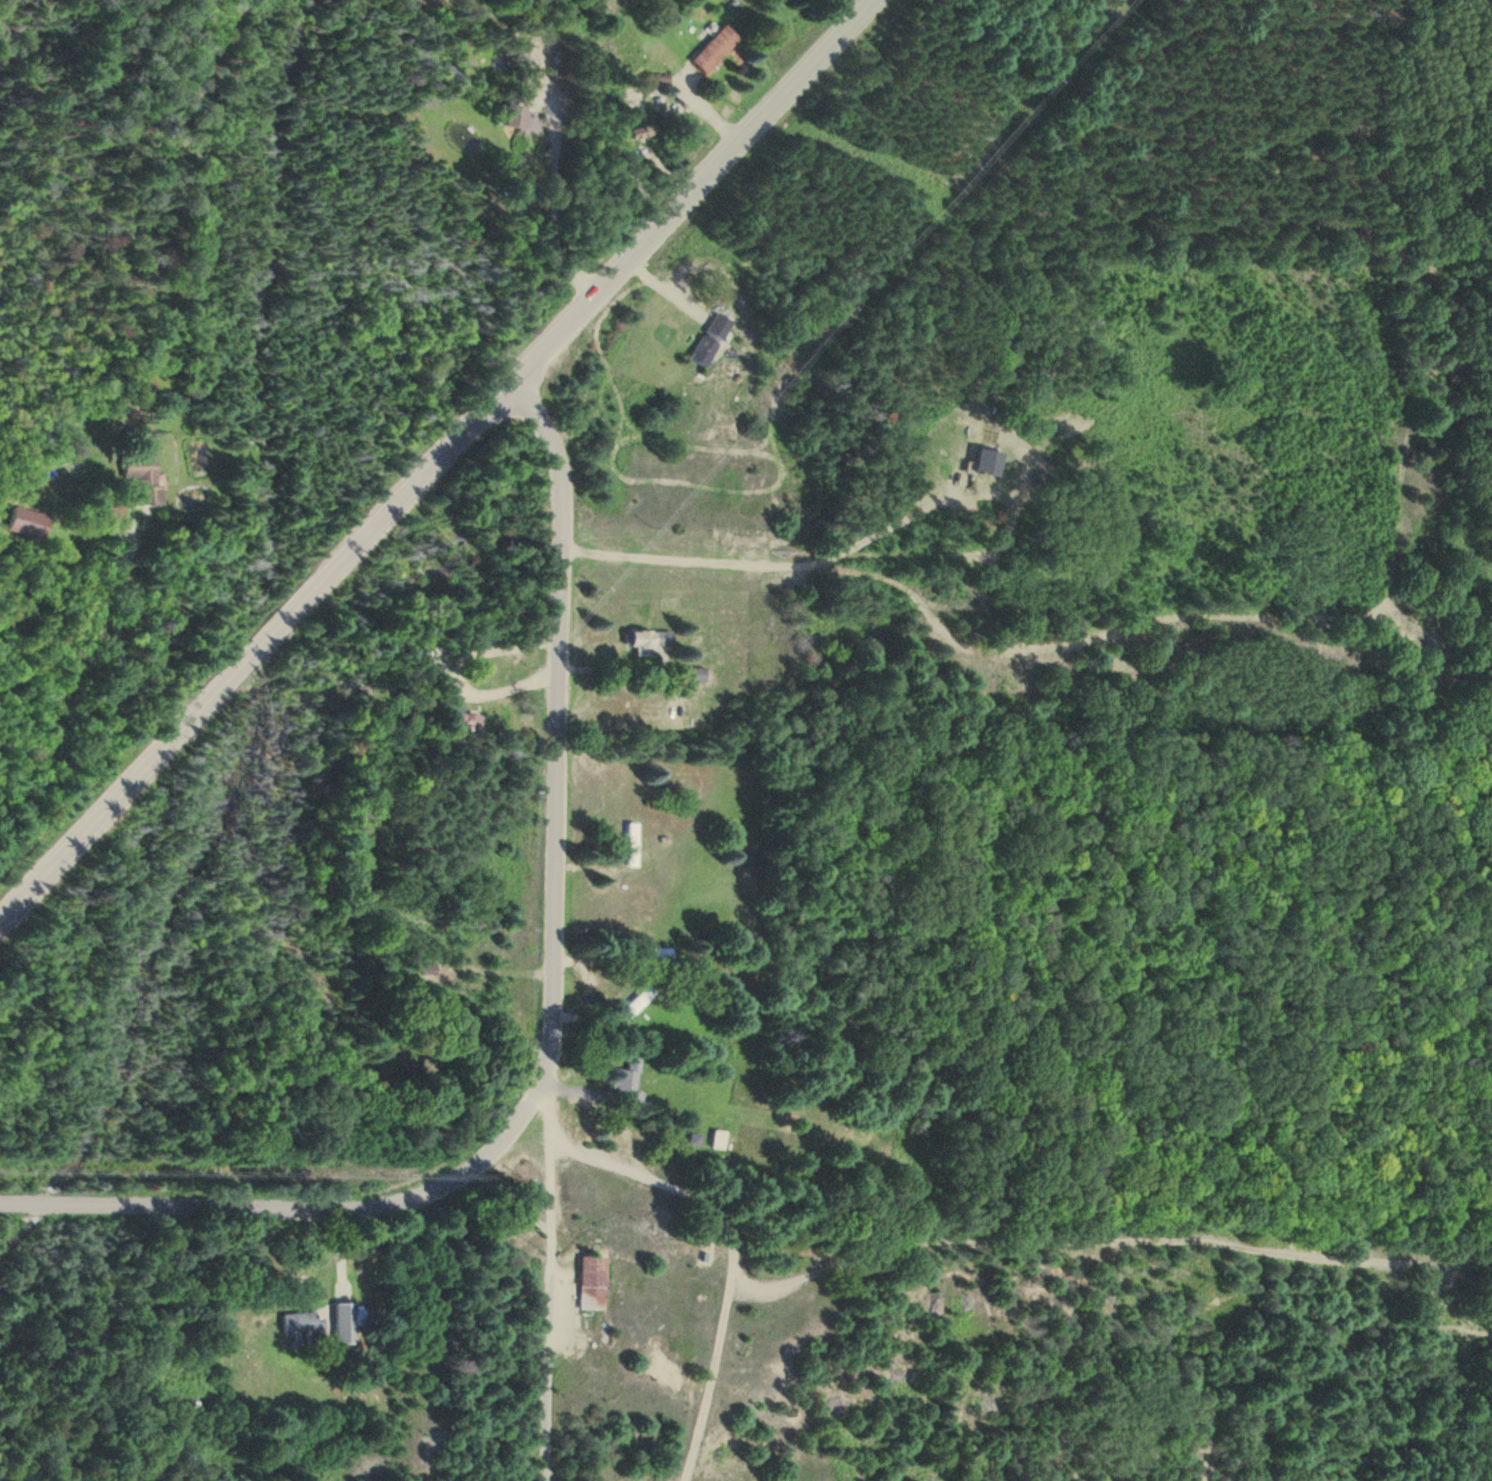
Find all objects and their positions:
building: (713, 50)
building: (509, 113)
building: (708, 341)
road: (438, 461)
building: (138, 478)
building: (23, 523)
building: (490, 634)
building: (645, 641)
building: (697, 675)
building: (454, 721)
road: (556, 721)
building: (630, 845)
building: (656, 960)
building: (628, 1078)
road: (303, 1212)
road: (549, 1275)
building: (590, 1284)
building: (343, 1325)
building: (302, 1328)

